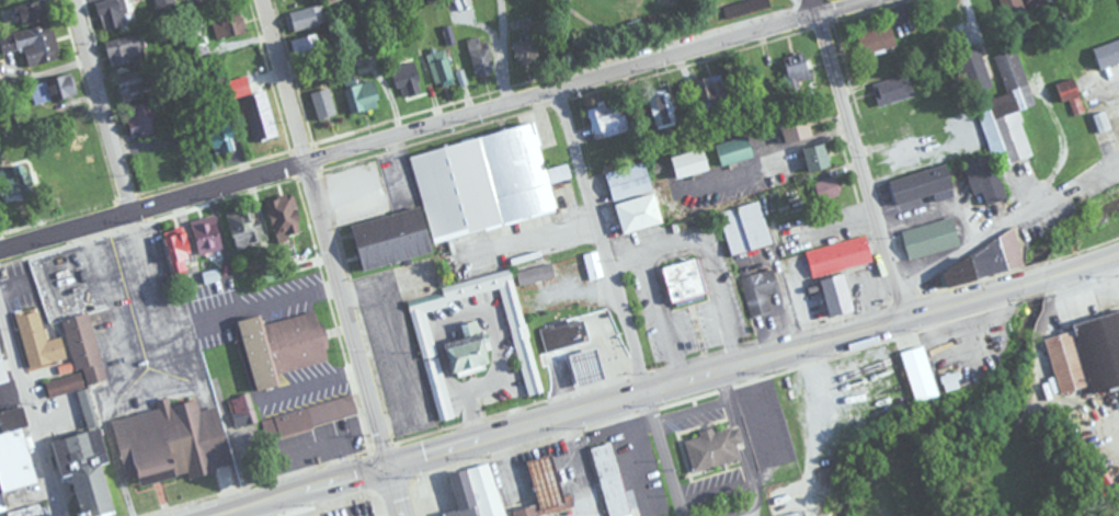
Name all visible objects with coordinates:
building: (205, 0)
building: (1074, 0)
building: (164, 3)
building: (1020, 7)
building: (744, 8)
building: (26, 13)
building: (116, 13)
building: (307, 18)
building: (229, 24)
building: (876, 38)
building: (306, 44)
building: (33, 45)
building: (125, 49)
building: (525, 50)
road: (504, 53)
building: (1107, 54)
building: (481, 57)
building: (442, 67)
building: (974, 70)
building: (797, 72)
building: (403, 77)
building: (239, 87)
building: (53, 89)
building: (710, 89)
building: (1065, 90)
building: (893, 91)
building: (359, 93)
building: (324, 101)
road: (100, 108)
building: (661, 111)
building: (1007, 113)
building: (607, 121)
building: (1106, 121)
building: (255, 123)
road: (438, 126)
building: (793, 129)
building: (218, 139)
building: (732, 151)
building: (813, 158)
road: (861, 158)
building: (688, 163)
building: (82, 167)
building: (52, 181)
building: (488, 182)
building: (624, 183)
building: (13, 184)
building: (920, 185)
building: (986, 185)
building: (826, 190)
building: (283, 215)
building: (636, 215)
road: (1006, 226)
building: (745, 228)
building: (243, 229)
road: (327, 231)
building: (388, 238)
building: (205, 239)
building: (929, 239)
road: (603, 240)
building: (176, 252)
building: (838, 256)
road: (471, 257)
building: (980, 263)
building: (594, 265)
building: (535, 275)
building: (682, 279)
building: (760, 293)
road: (295, 296)
building: (834, 296)
road: (208, 318)
building: (423, 326)
building: (564, 334)
building: (38, 341)
building: (521, 342)
building: (279, 347)
road: (753, 360)
building: (1065, 363)
building: (585, 368)
building: (1, 374)
building: (920, 374)
road: (153, 376)
building: (951, 380)
building: (443, 395)
road: (28, 410)
building: (89, 414)
building: (308, 417)
building: (184, 439)
building: (713, 447)
road: (665, 454)
building: (19, 469)
building: (610, 480)
road: (297, 490)
road: (395, 490)
building: (482, 493)
building: (801, 514)

